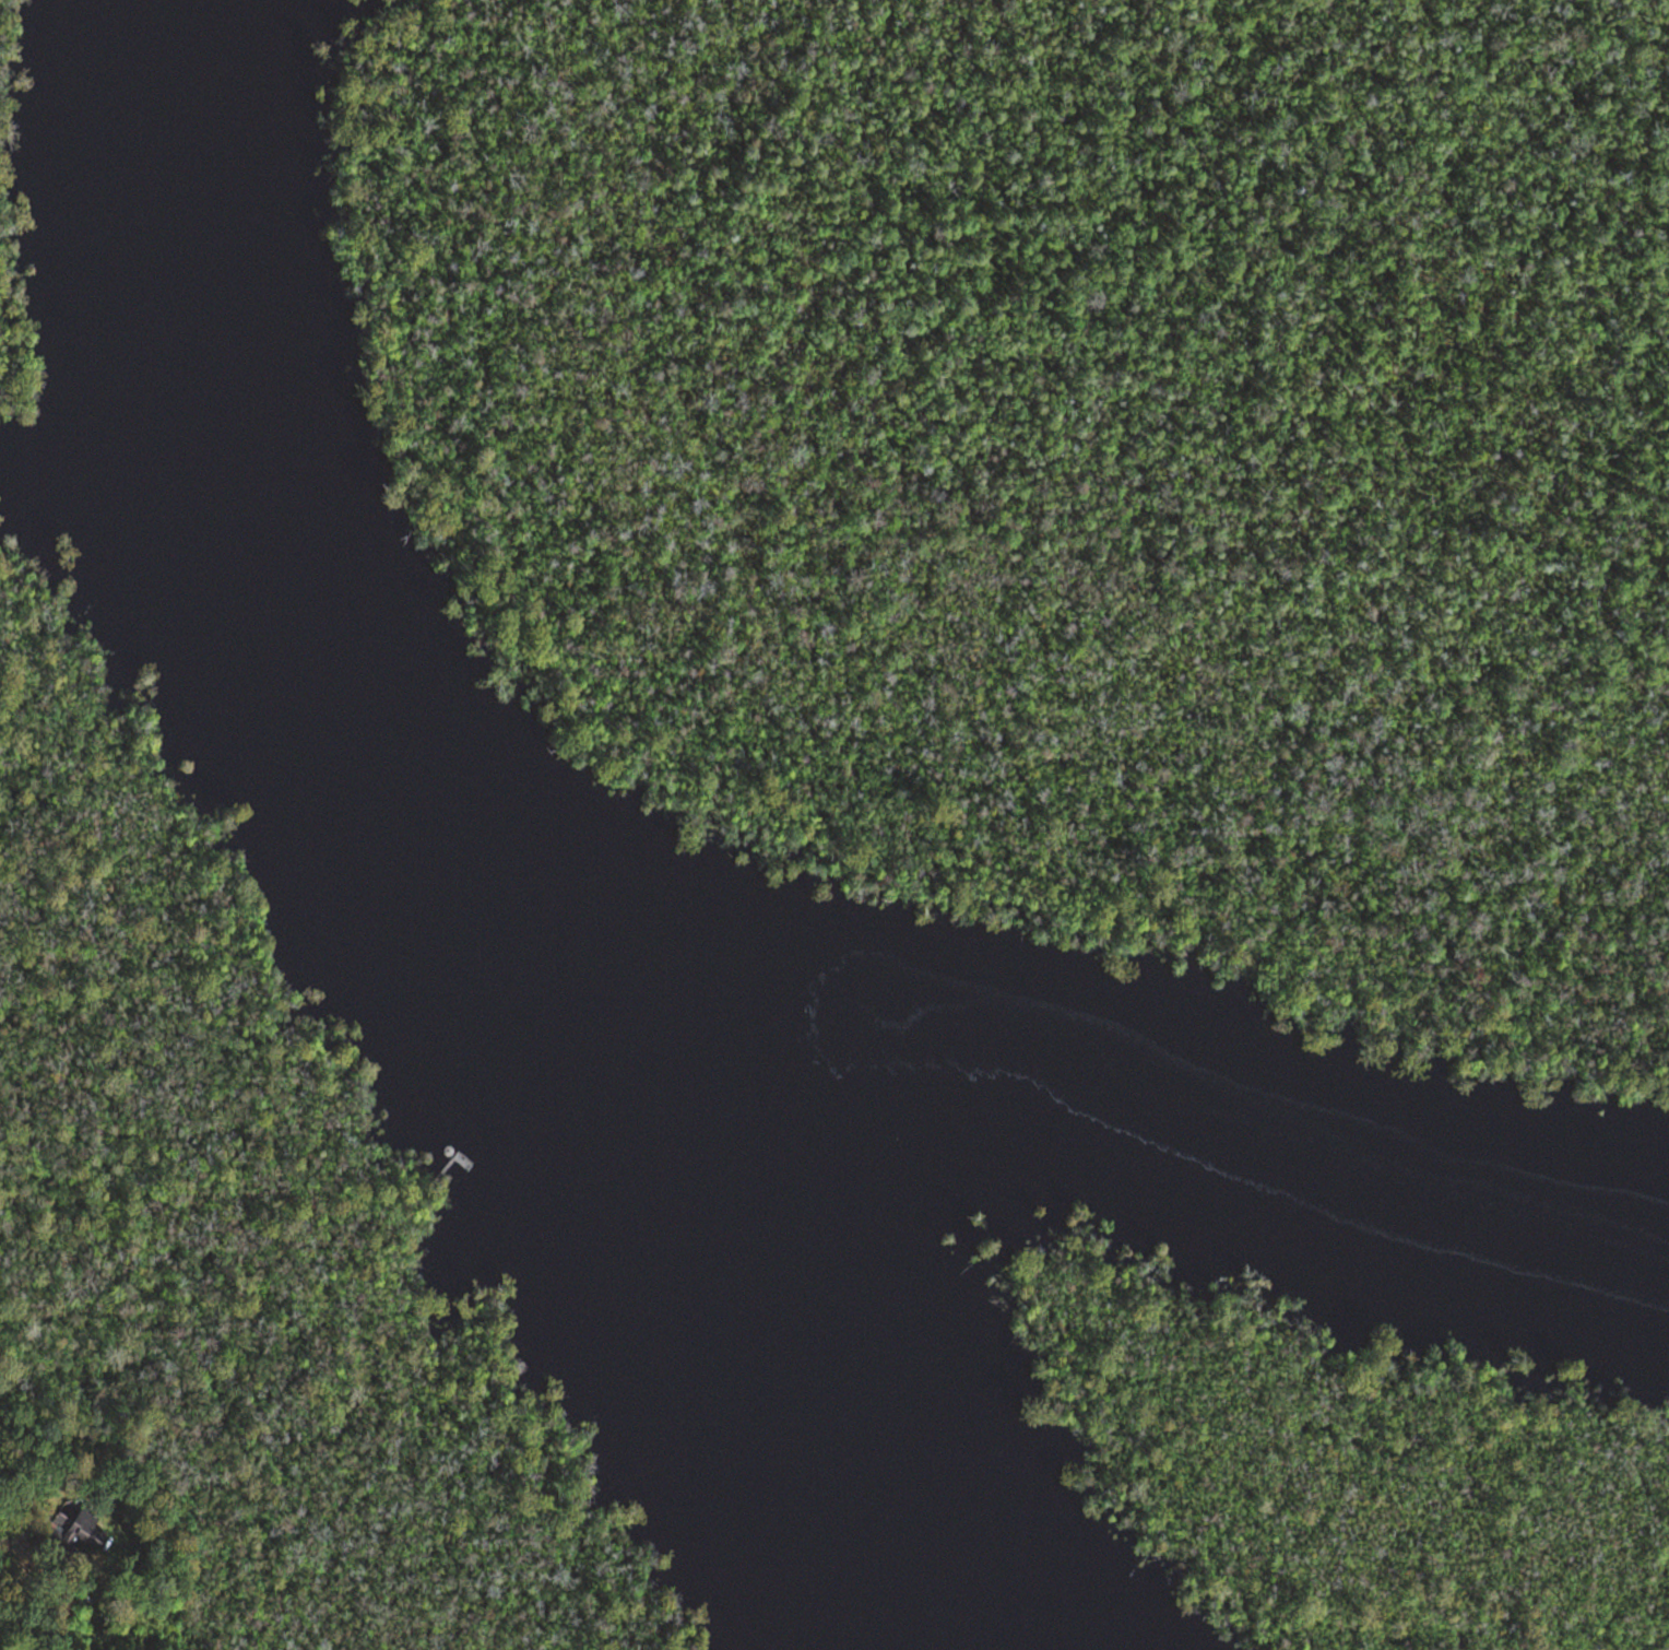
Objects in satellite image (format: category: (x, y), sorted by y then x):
river: (407, 901)
building: (69, 1532)

